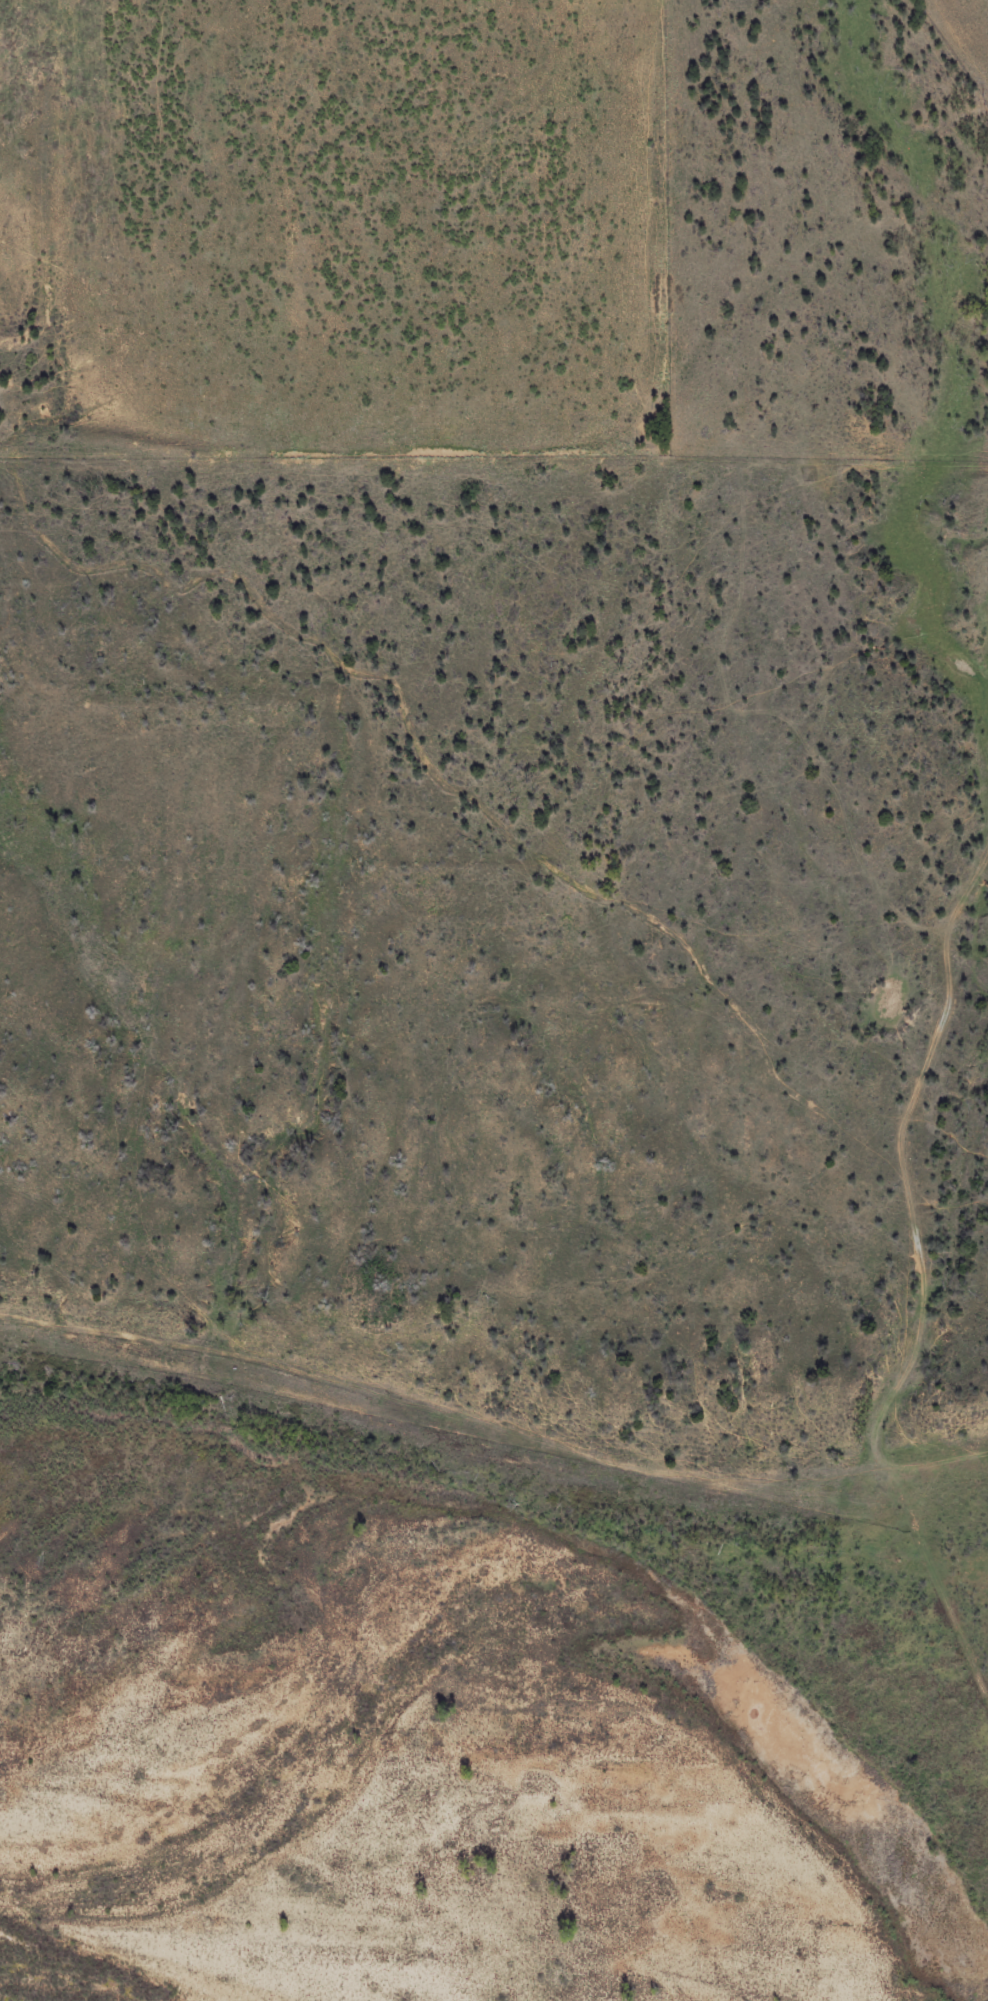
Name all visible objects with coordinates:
road: (924, 1279)

